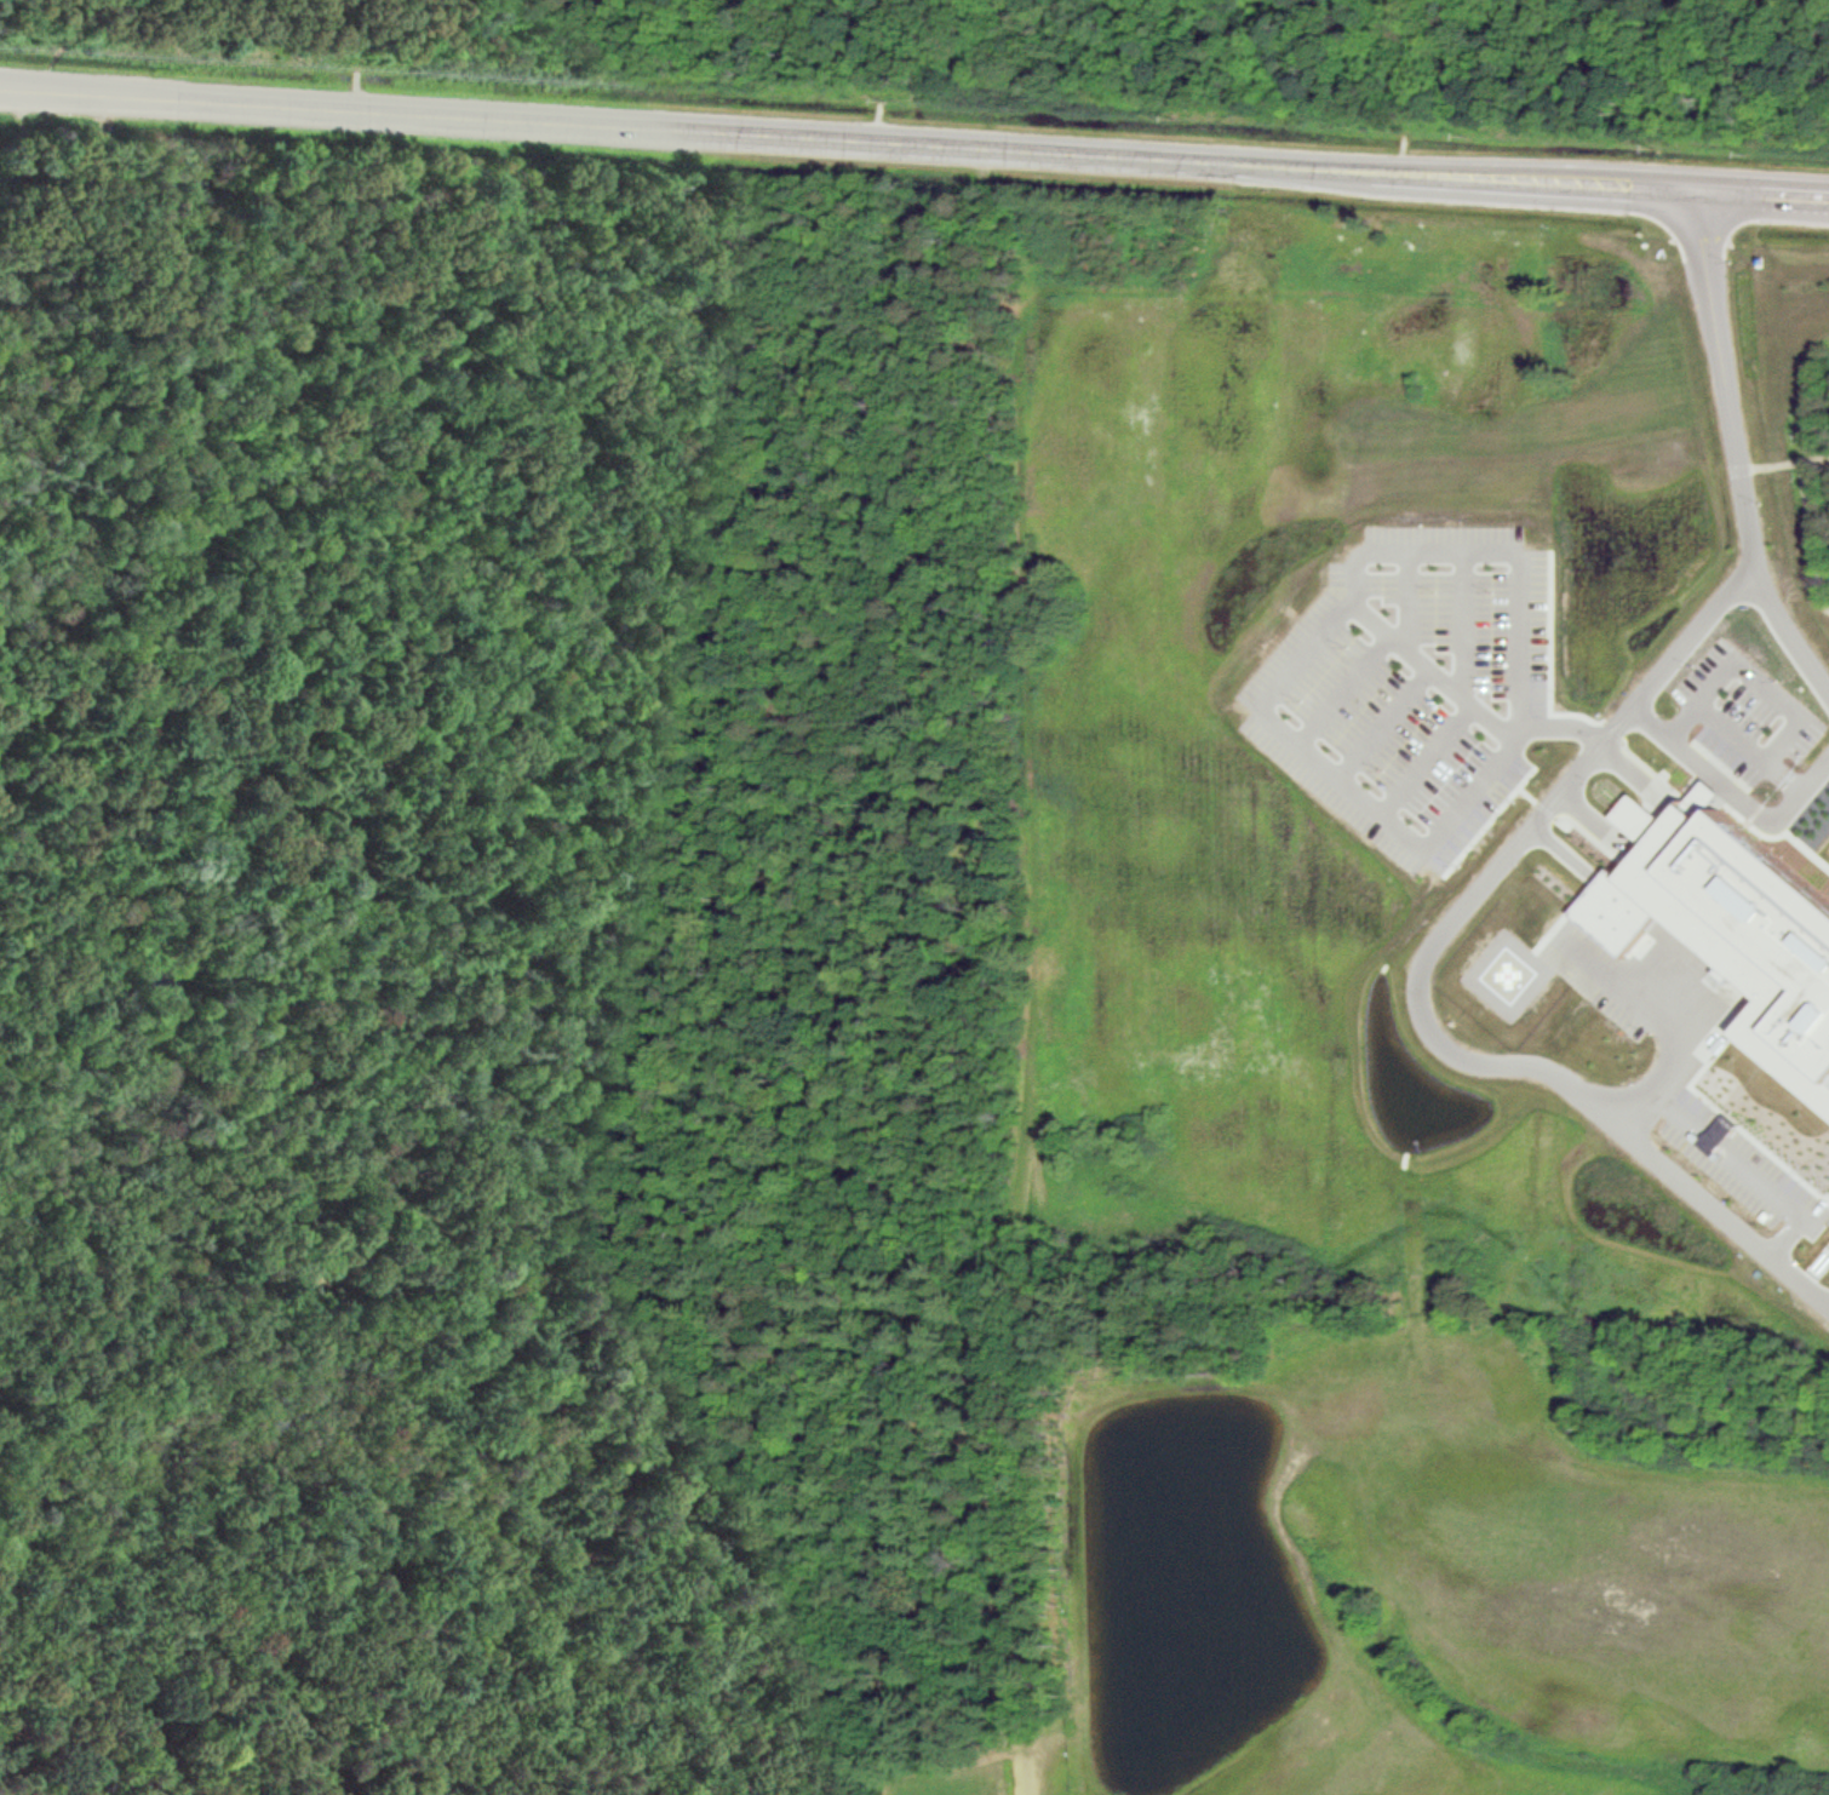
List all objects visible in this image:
road: (913, 142)
road: (1736, 449)
road: (1784, 464)
road: (1409, 601)
road: (1464, 625)
road: (1298, 664)
road: (1753, 673)
parking lot: (1412, 687)
road: (1344, 690)
road: (1466, 695)
parking lot: (1745, 715)
road: (1386, 726)
road: (1750, 749)
road: (1428, 762)
road: (1629, 764)
road: (1732, 790)
building: (1720, 941)
helipad: (1507, 975)
road: (1420, 985)
parking lot: (1621, 991)
road: (1673, 1021)
road: (1749, 1165)
parking lot: (1745, 1166)

